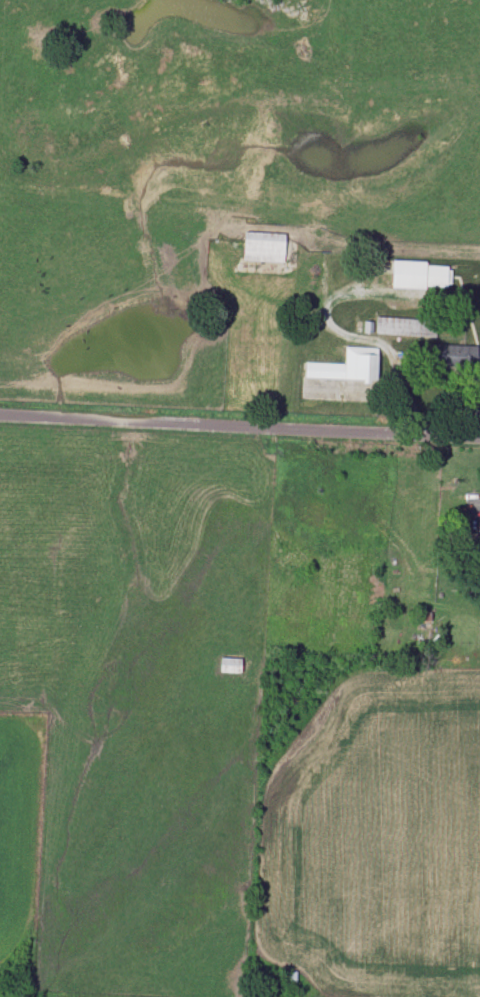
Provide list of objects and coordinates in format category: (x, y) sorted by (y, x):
building: (263, 246)
building: (419, 274)
building: (402, 326)
road: (354, 336)
building: (455, 354)
building: (346, 366)
road: (474, 394)
road: (468, 418)
road: (240, 420)
road: (477, 512)
building: (423, 620)
crop: (19, 827)
crop: (373, 840)

